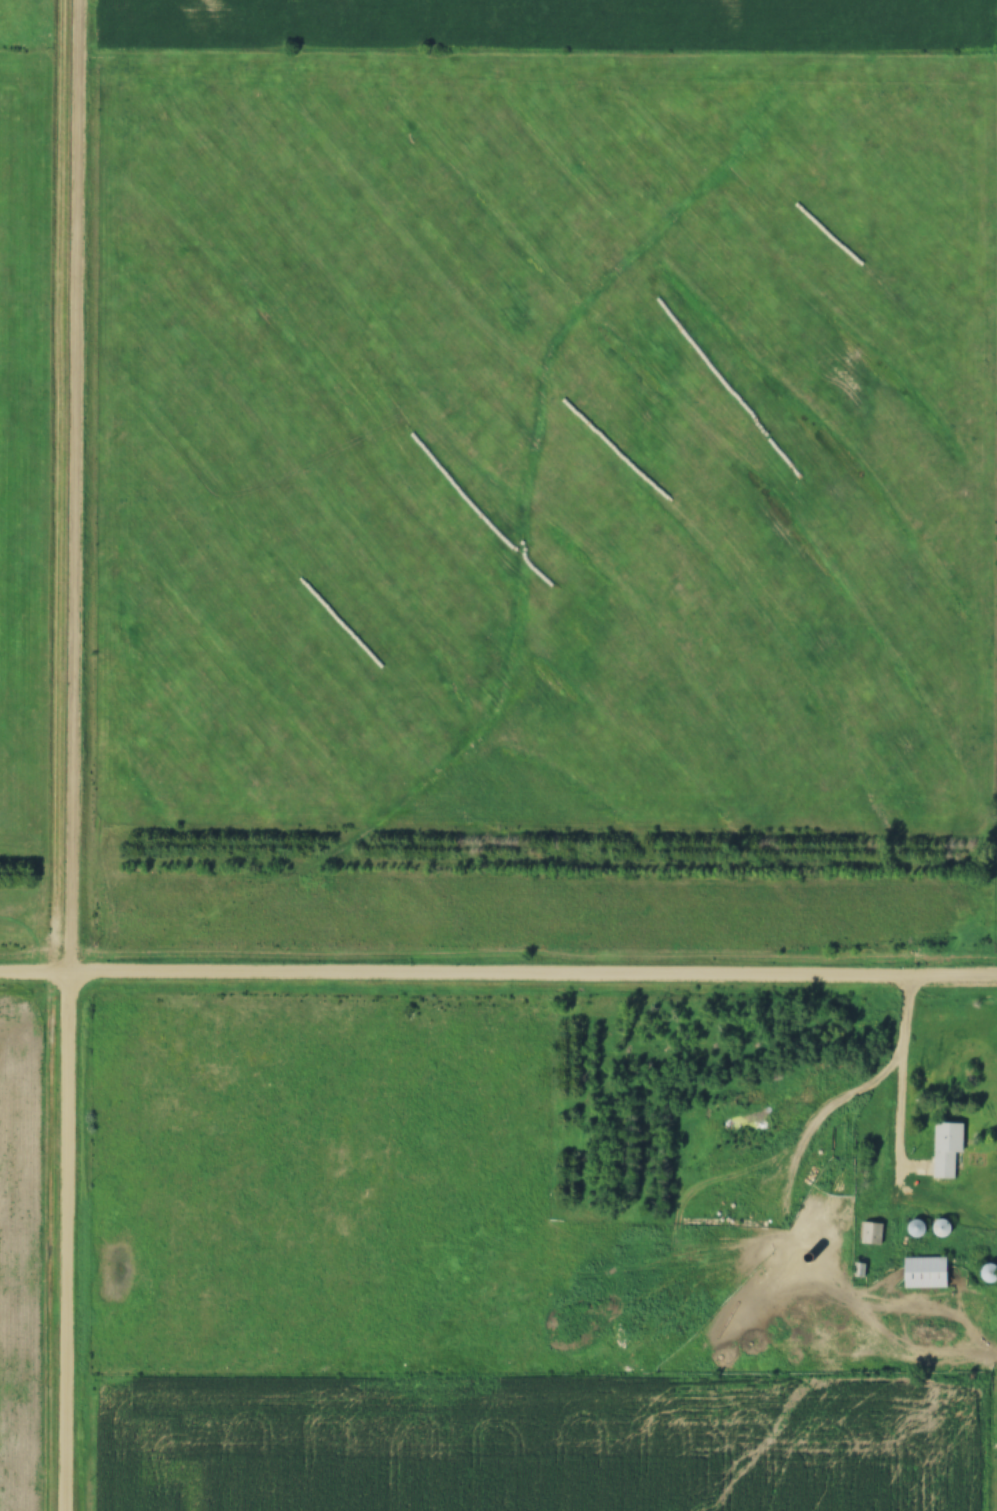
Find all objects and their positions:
road: (70, 755)
road: (498, 972)
road: (901, 1032)
building: (949, 1149)
building: (871, 1234)
building: (809, 1259)
building: (927, 1273)
building: (990, 1274)

